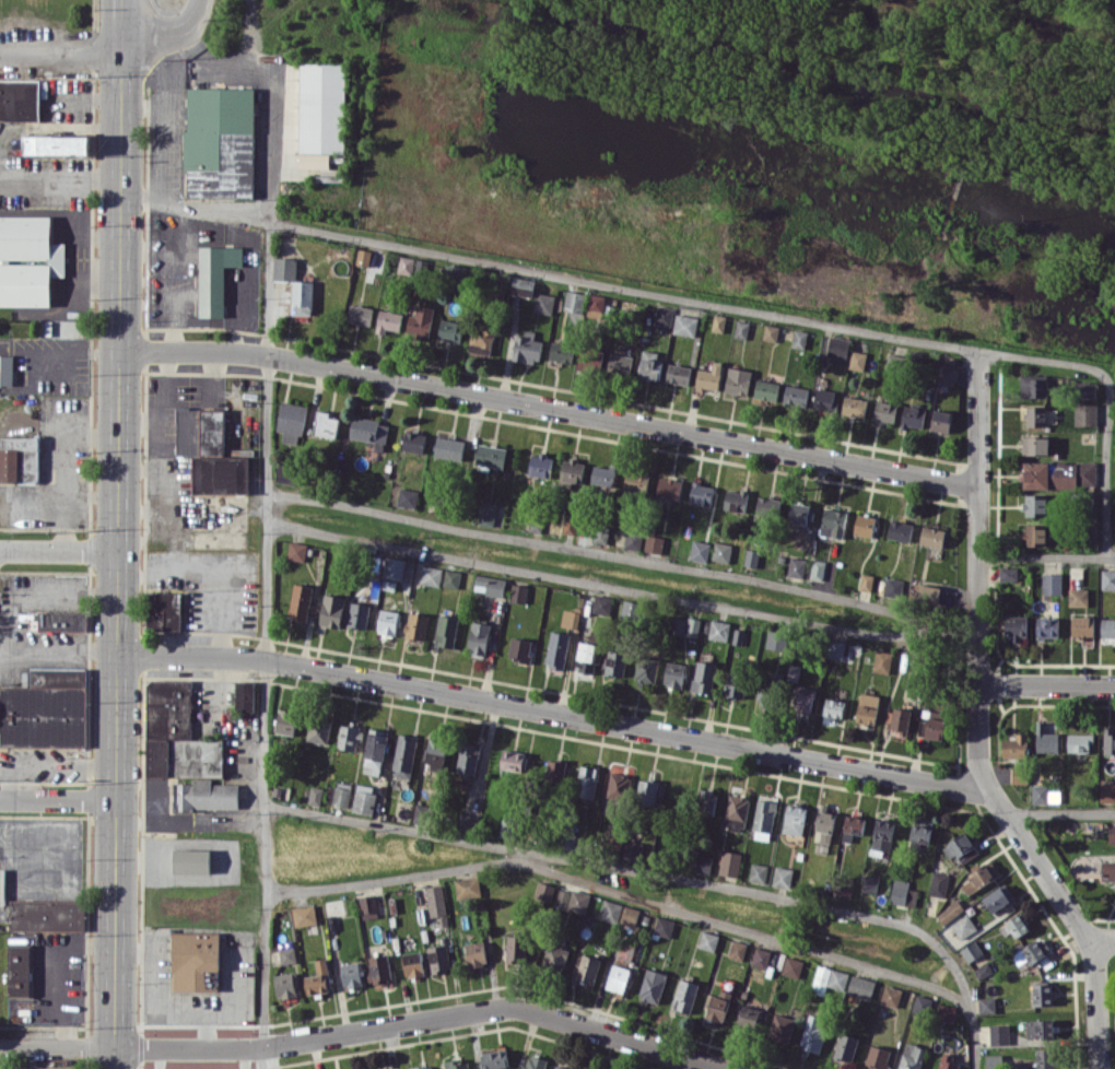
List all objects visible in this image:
road: (168, 33)
road: (61, 60)
road: (271, 96)
building: (20, 98)
road: (142, 107)
road: (162, 134)
building: (219, 142)
building: (57, 144)
road: (60, 175)
building: (363, 257)
building: (28, 260)
building: (406, 265)
building: (284, 268)
building: (214, 277)
building: (523, 285)
building: (302, 297)
building: (574, 301)
road: (702, 301)
building: (543, 303)
building: (598, 305)
building: (360, 314)
building: (664, 315)
building: (388, 320)
building: (420, 320)
building: (718, 322)
building: (684, 325)
building: (450, 329)
building: (741, 329)
building: (771, 331)
building: (799, 338)
building: (481, 339)
building: (527, 346)
road: (66, 349)
building: (837, 349)
building: (561, 351)
building: (857, 360)
building: (589, 361)
building: (619, 363)
building: (649, 364)
building: (5, 369)
building: (678, 373)
building: (946, 374)
building: (709, 376)
building: (738, 380)
building: (1033, 385)
building: (766, 389)
building: (1084, 389)
building: (795, 395)
building: (823, 399)
road: (549, 404)
building: (854, 406)
building: (884, 411)
building: (1084, 414)
building: (1035, 415)
building: (913, 416)
building: (941, 420)
building: (291, 421)
building: (325, 424)
building: (368, 430)
building: (413, 442)
building: (1035, 445)
building: (449, 447)
building: (210, 451)
building: (491, 455)
building: (20, 458)
building: (540, 465)
building: (572, 470)
building: (285, 471)
road: (66, 473)
building: (1057, 473)
building: (602, 477)
building: (635, 482)
building: (669, 486)
building: (701, 493)
road: (92, 495)
building: (735, 500)
building: (1035, 504)
building: (767, 505)
building: (486, 513)
building: (800, 513)
building: (832, 521)
building: (570, 525)
building: (864, 525)
building: (900, 530)
road: (118, 533)
building: (600, 534)
building: (1034, 534)
building: (931, 536)
building: (632, 540)
building: (654, 543)
building: (699, 550)
building: (296, 551)
building: (721, 551)
road: (58, 552)
road: (603, 553)
road: (1045, 555)
building: (751, 556)
building: (796, 566)
building: (394, 567)
building: (818, 569)
building: (1008, 573)
building: (431, 575)
road: (207, 577)
building: (451, 578)
building: (1107, 578)
building: (866, 582)
building: (1051, 583)
road: (601, 584)
building: (489, 585)
building: (893, 586)
building: (518, 592)
road: (56, 594)
building: (928, 594)
building: (1078, 596)
building: (300, 601)
building: (164, 610)
building: (332, 610)
building: (630, 610)
building: (357, 614)
building: (570, 618)
building: (61, 621)
building: (387, 621)
building: (416, 625)
building: (678, 625)
building: (692, 626)
building: (1016, 626)
building: (1046, 627)
building: (1107, 627)
building: (1083, 629)
building: (718, 630)
building: (446, 631)
road: (955, 633)
road: (269, 634)
building: (738, 636)
building: (478, 637)
building: (776, 639)
building: (519, 648)
road: (58, 649)
building: (556, 649)
building: (835, 649)
building: (585, 657)
building: (881, 660)
building: (614, 662)
building: (646, 669)
building: (673, 673)
building: (703, 677)
building: (735, 683)
road: (1045, 683)
building: (762, 693)
building: (244, 695)
building: (802, 697)
building: (833, 707)
building: (867, 707)
building: (45, 708)
road: (554, 713)
building: (901, 718)
building: (285, 721)
building: (932, 726)
road: (977, 727)
building: (318, 729)
building: (348, 736)
building: (1045, 739)
building: (1108, 740)
building: (1079, 741)
building: (1014, 745)
building: (374, 748)
building: (184, 749)
building: (435, 753)
building: (403, 755)
building: (468, 757)
building: (513, 760)
building: (554, 772)
building: (1019, 775)
building: (586, 780)
building: (617, 784)
building: (1106, 789)
building: (647, 791)
building: (1038, 792)
building: (339, 794)
building: (315, 795)
building: (364, 798)
road: (58, 801)
building: (705, 801)
road: (1056, 809)
building: (736, 811)
building: (764, 812)
building: (419, 814)
building: (794, 819)
building: (467, 821)
building: (824, 822)
building: (852, 825)
building: (506, 827)
building: (1111, 833)
building: (882, 834)
building: (920, 834)
building: (960, 847)
building: (633, 849)
building: (191, 860)
road: (596, 861)
building: (729, 862)
building: (703, 864)
building: (1108, 870)
building: (758, 872)
road: (402, 874)
building: (782, 877)
building: (981, 877)
building: (869, 883)
building: (938, 883)
building: (844, 885)
building: (467, 888)
building: (544, 890)
building: (902, 892)
building: (562, 897)
building: (998, 897)
building: (435, 900)
building: (577, 901)
building: (368, 906)
building: (610, 911)
building: (950, 912)
building: (46, 914)
building: (304, 915)
building: (629, 915)
building: (662, 926)
building: (963, 926)
building: (1012, 926)
road: (747, 930)
building: (707, 940)
road: (1104, 944)
building: (514, 948)
building: (737, 949)
building: (971, 950)
building: (1029, 950)
building: (476, 953)
building: (286, 954)
building: (438, 958)
building: (554, 958)
building: (760, 958)
building: (193, 959)
building: (412, 963)
building: (791, 966)
building: (587, 967)
building: (19, 968)
building: (379, 970)
building: (983, 970)
building: (350, 974)
building: (318, 977)
building: (618, 977)
building: (828, 978)
building: (285, 985)
building: (652, 985)
building: (860, 986)
road: (963, 992)
building: (1042, 994)
building: (684, 995)
building: (890, 996)
building: (920, 1003)
building: (986, 1003)
park: (1111, 1003)
building: (718, 1005)
building: (946, 1012)
building: (748, 1017)
road: (369, 1027)
building: (780, 1027)
building: (1040, 1027)
building: (813, 1032)
building: (998, 1033)
building: (845, 1046)
building: (912, 1056)
road: (265, 1057)
building: (877, 1057)
building: (1046, 1057)
building: (494, 1058)
building: (946, 1061)
building: (995, 1061)
building: (535, 1062)
building: (456, 1065)
building: (423, 1067)
building: (560, 1067)
building: (388, 1068)

